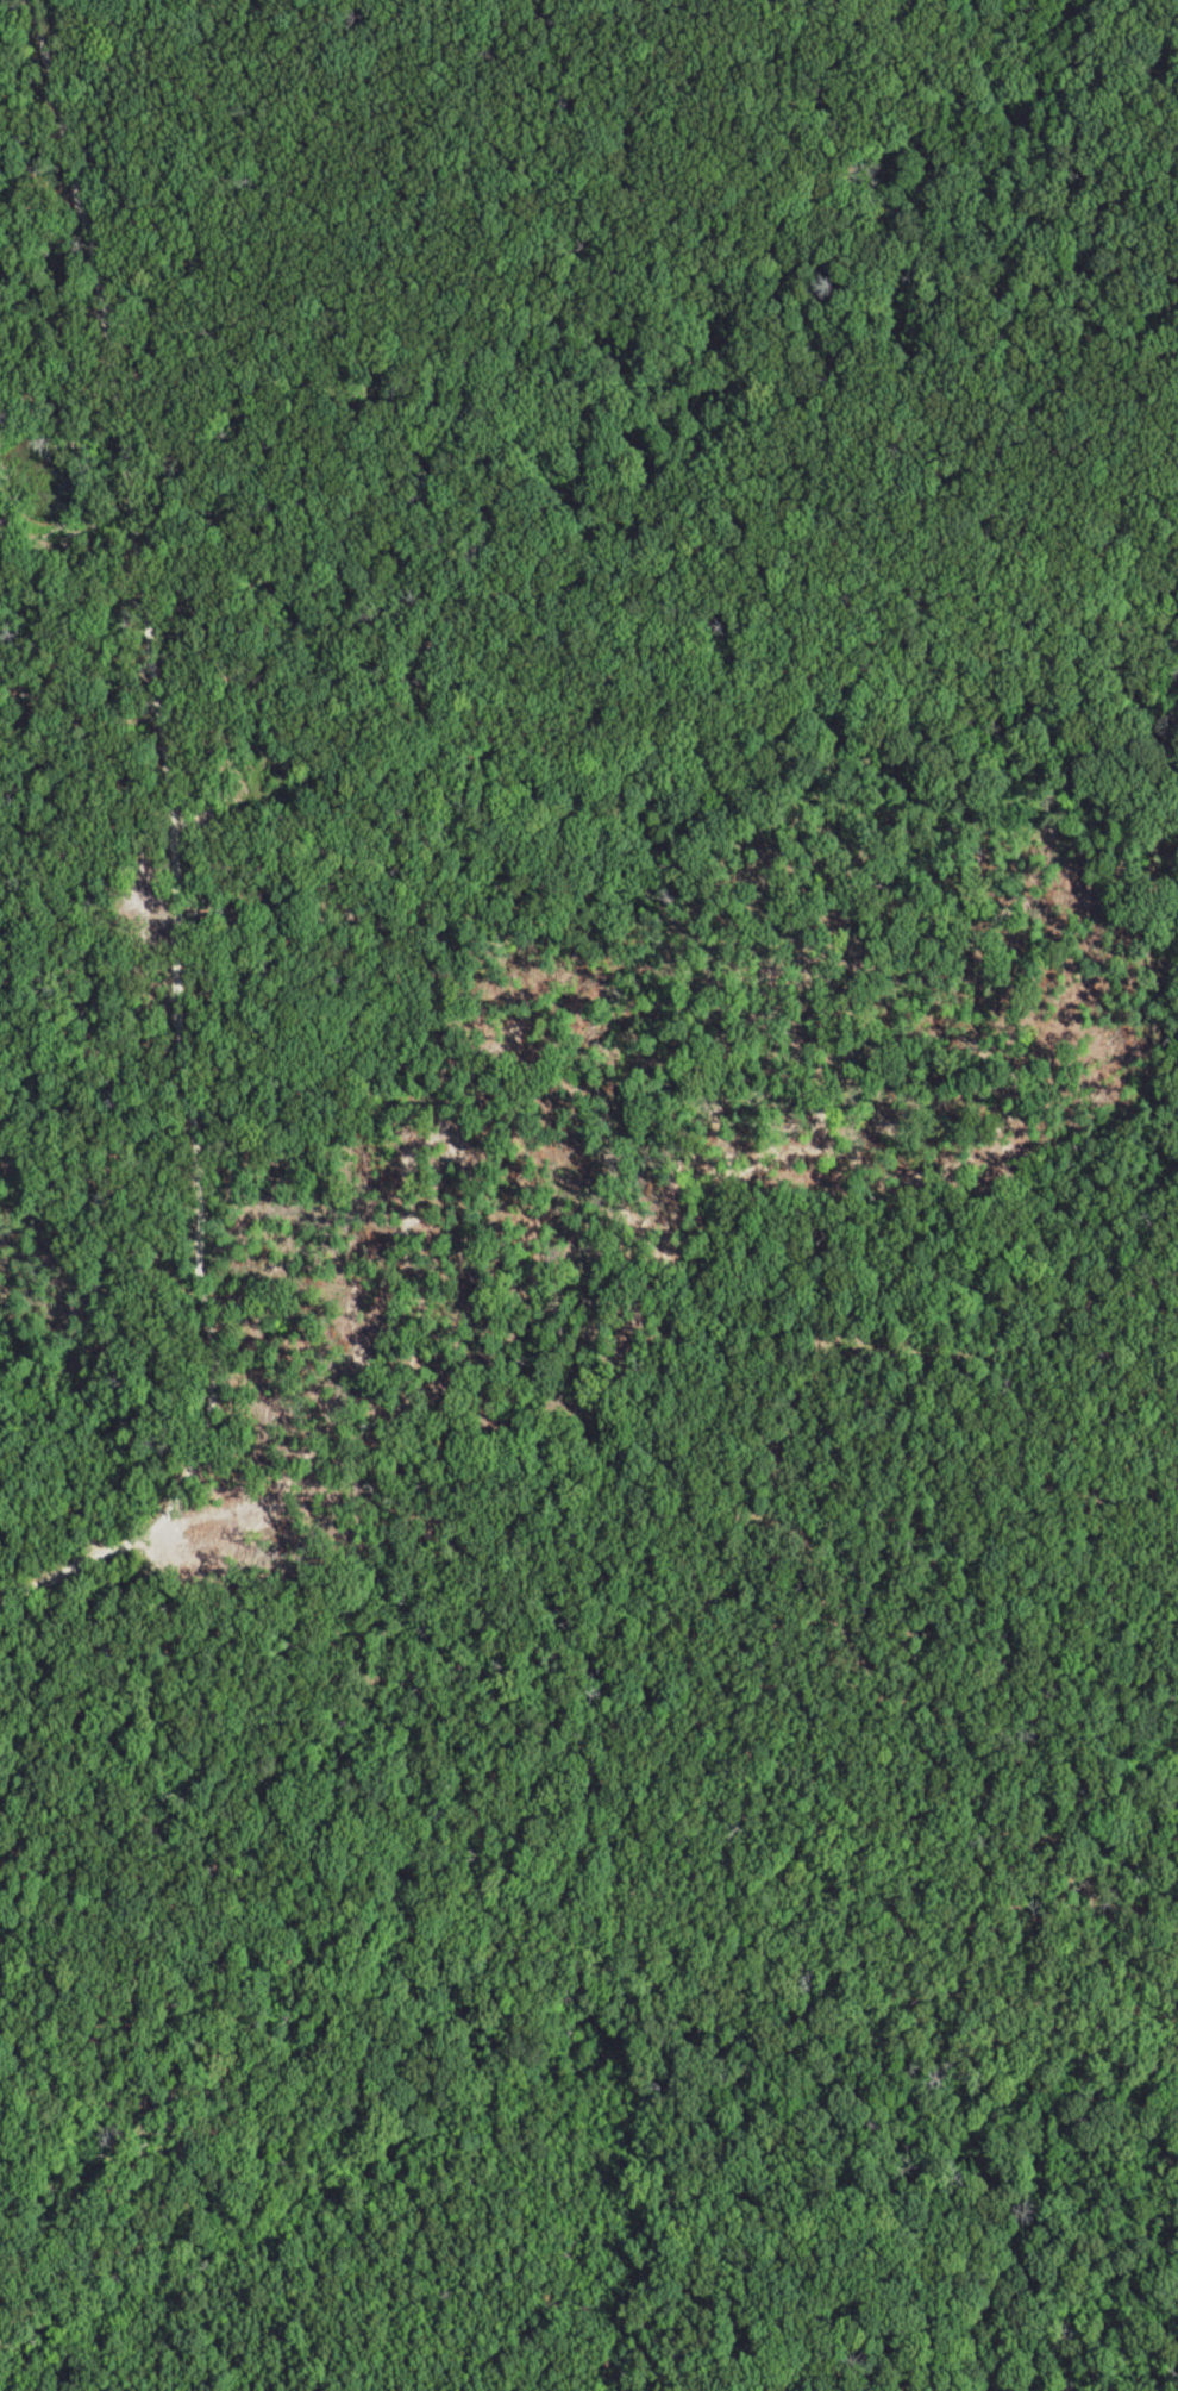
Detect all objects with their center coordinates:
road: (170, 847)

